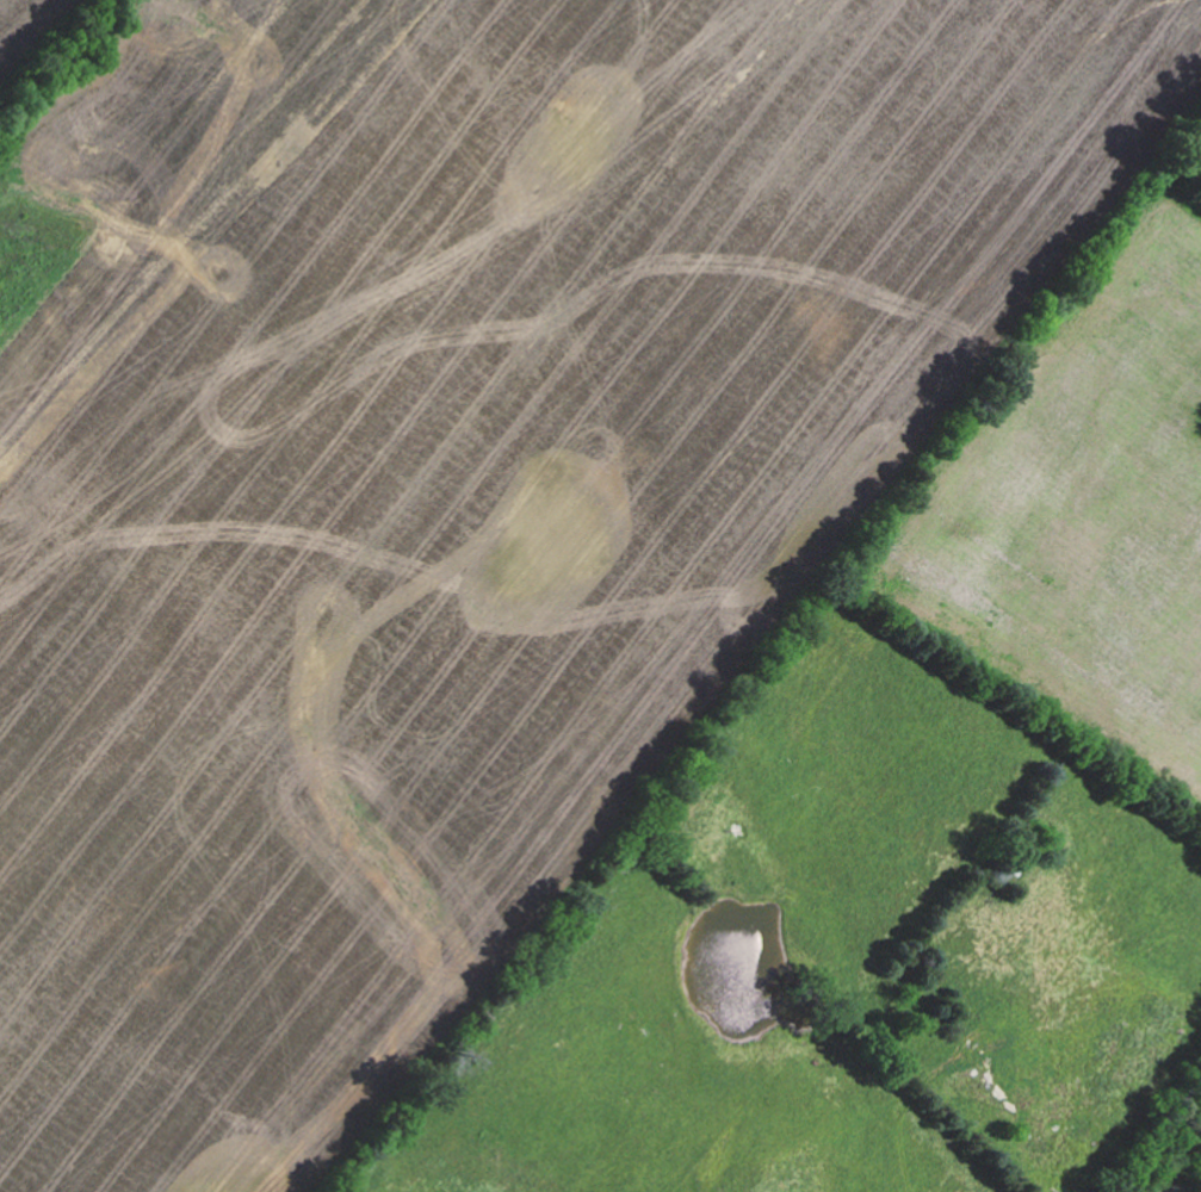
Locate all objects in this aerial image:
road: (1163, 1140)

